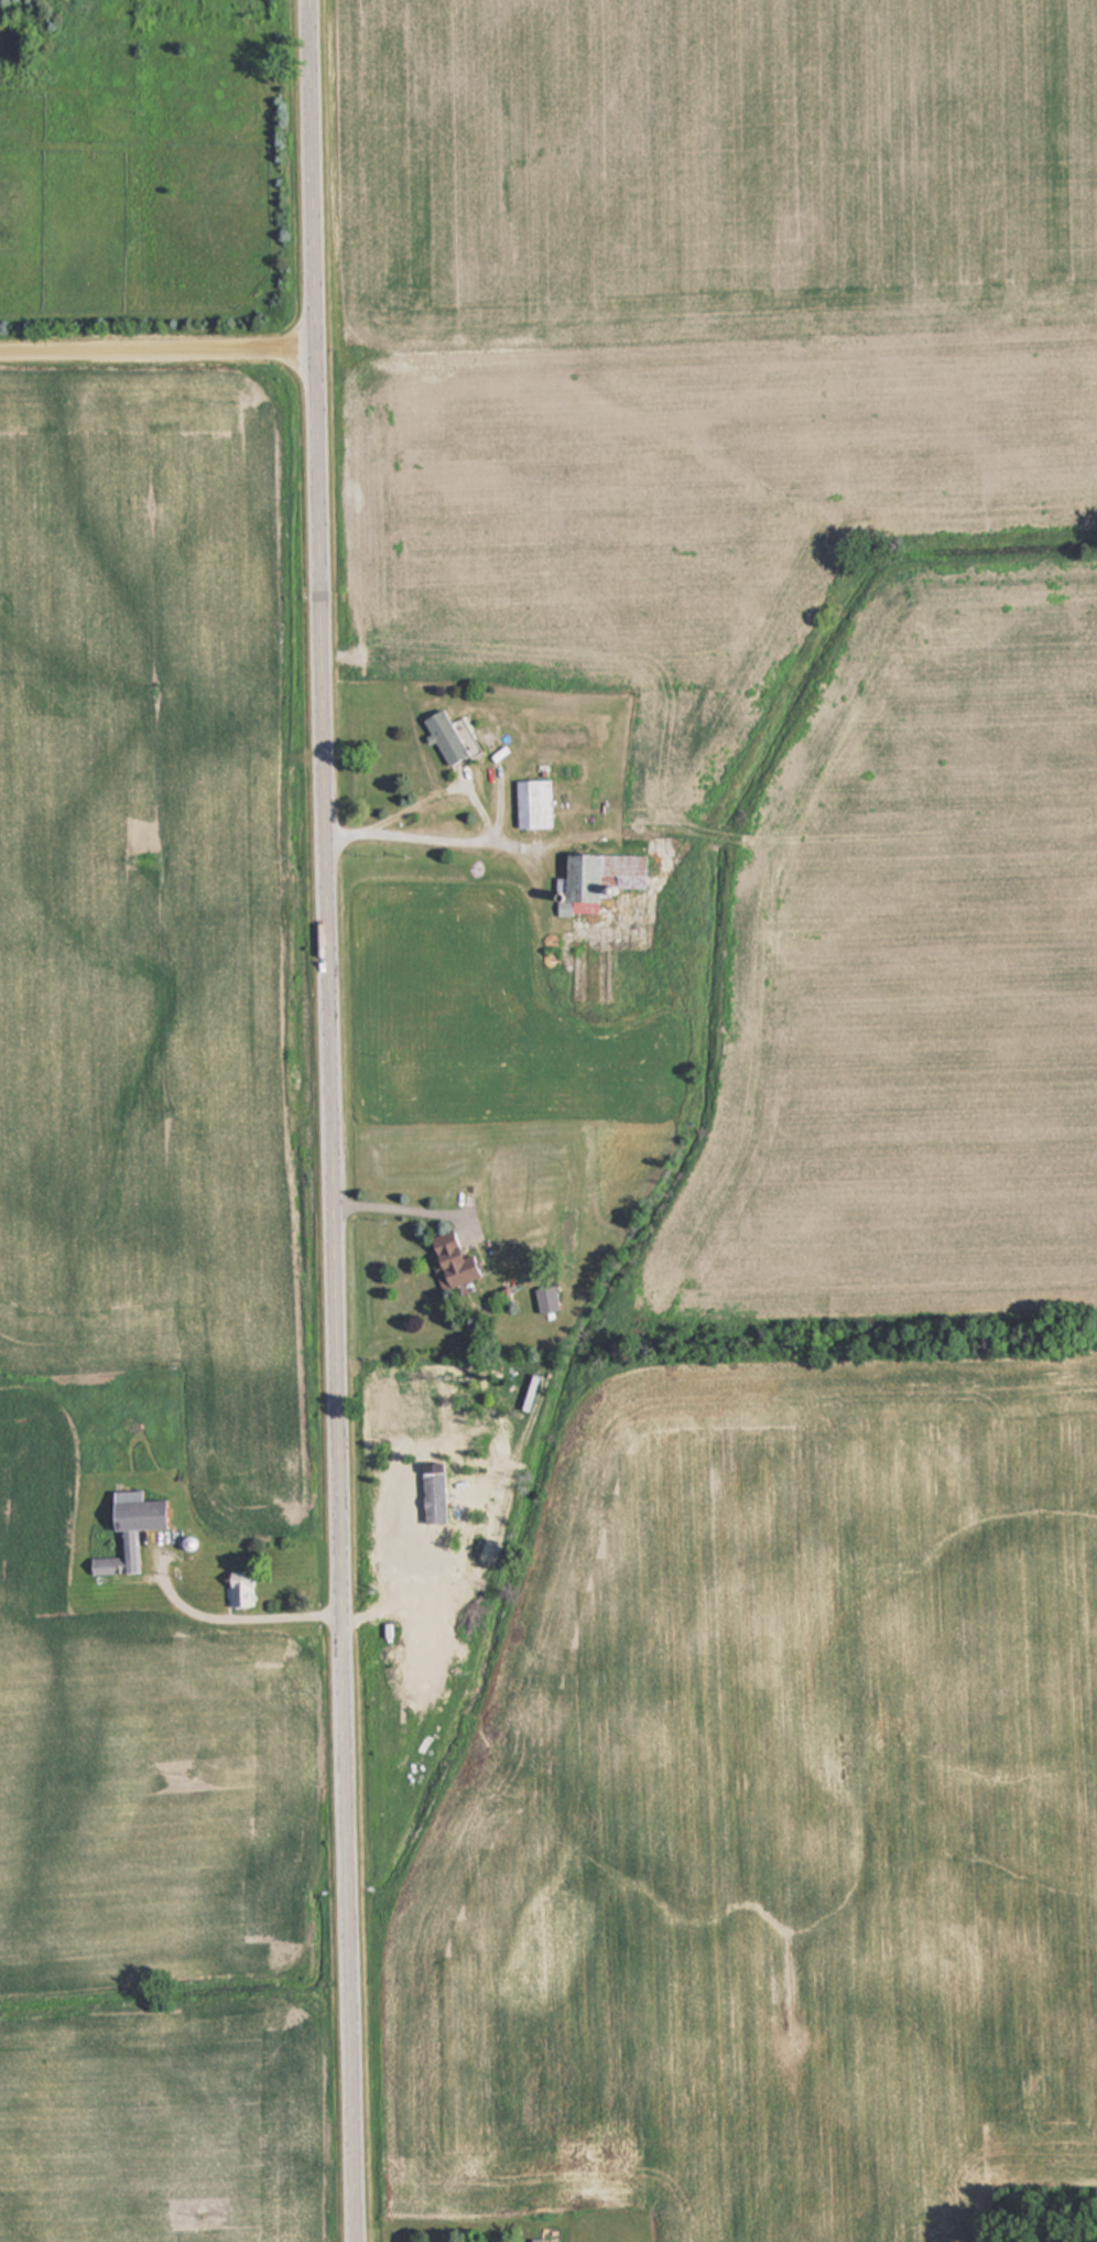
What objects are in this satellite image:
road: (159, 358)
building: (442, 736)
building: (531, 803)
building: (601, 873)
road: (336, 1120)
building: (448, 1260)
building: (543, 1298)
building: (127, 1532)
building: (237, 1591)

